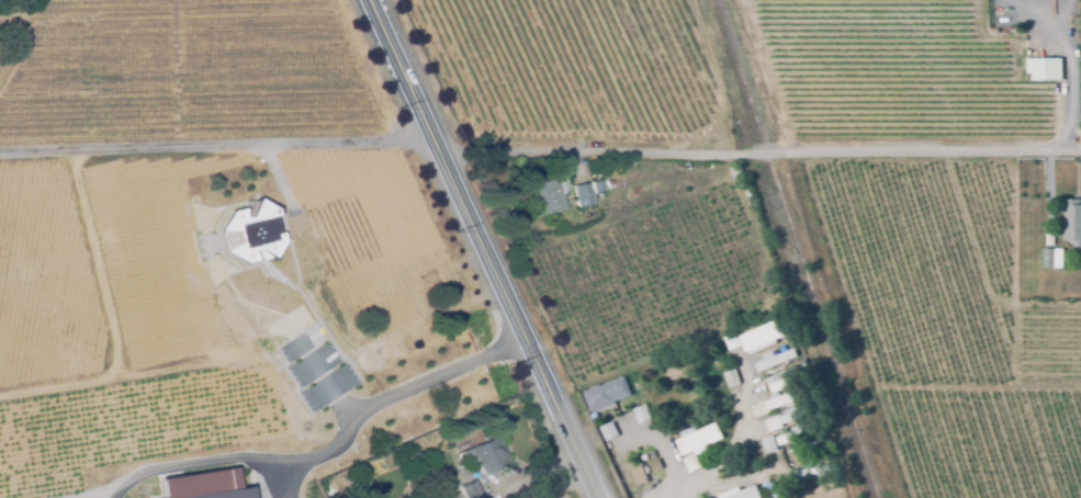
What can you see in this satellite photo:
building: (993, 31)
building: (1044, 68)
road: (1077, 87)
road: (217, 145)
road: (762, 154)
building: (198, 162)
building: (736, 172)
building: (597, 186)
building: (582, 195)
building: (544, 197)
building: (1072, 222)
road: (486, 248)
railway: (802, 248)
building: (1052, 259)
building: (213, 270)
building: (391, 312)
building: (752, 338)
building: (405, 342)
building: (345, 346)
building: (415, 346)
building: (775, 361)
building: (294, 366)
building: (730, 378)
building: (785, 380)
building: (607, 396)
building: (786, 398)
building: (642, 411)
building: (796, 415)
building: (413, 421)
building: (608, 429)
building: (391, 433)
building: (698, 440)
building: (798, 440)
road: (736, 441)
building: (768, 442)
building: (412, 450)
road: (334, 453)
building: (481, 457)
building: (691, 462)
building: (655, 465)
building: (817, 469)
building: (316, 472)
building: (638, 474)
road: (301, 478)
road: (562, 487)
building: (772, 488)
building: (470, 490)
building: (740, 494)
road: (90, 497)

